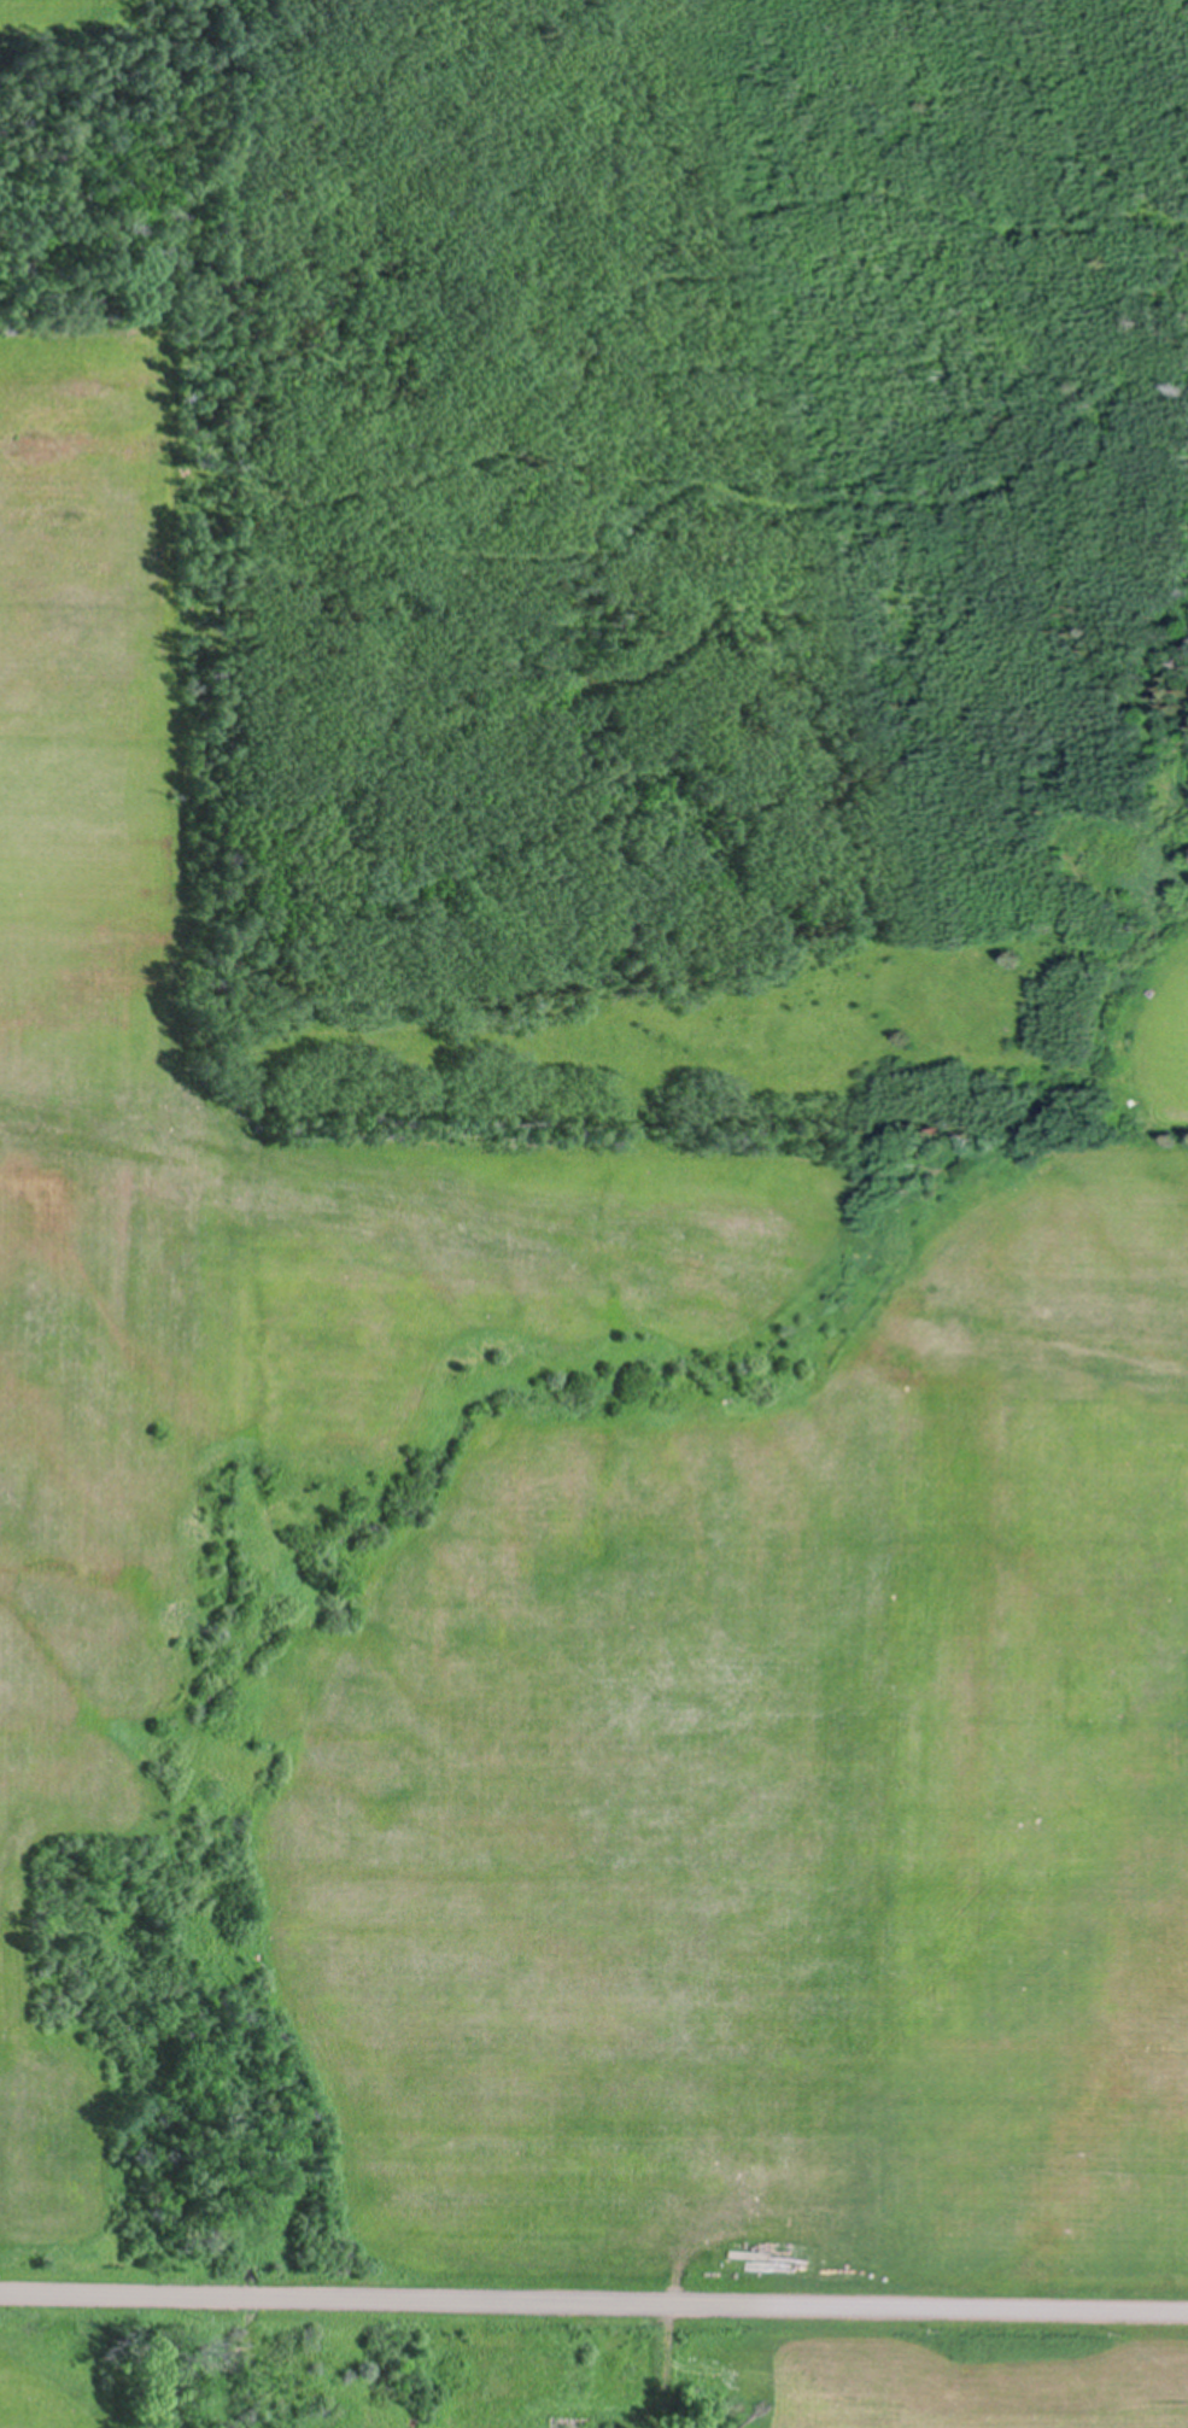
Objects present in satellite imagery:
road: (593, 2304)

